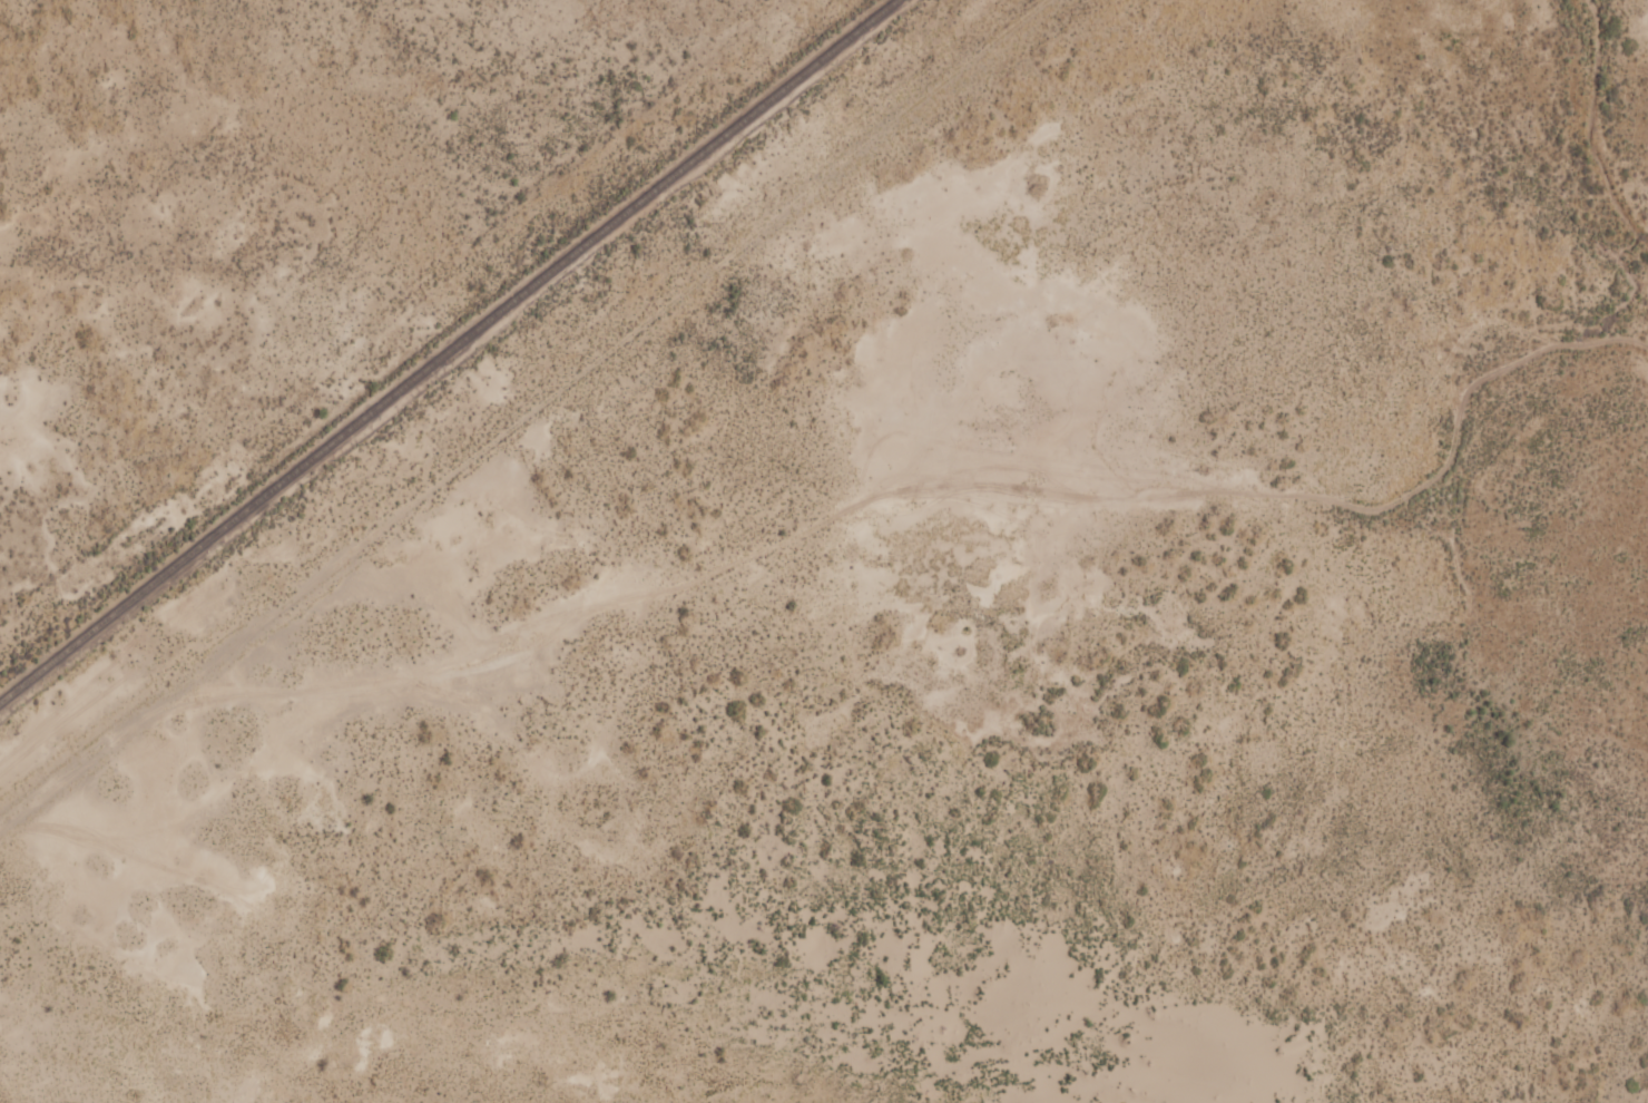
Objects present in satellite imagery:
railway: (449, 350)
road: (609, 359)
road: (803, 568)

